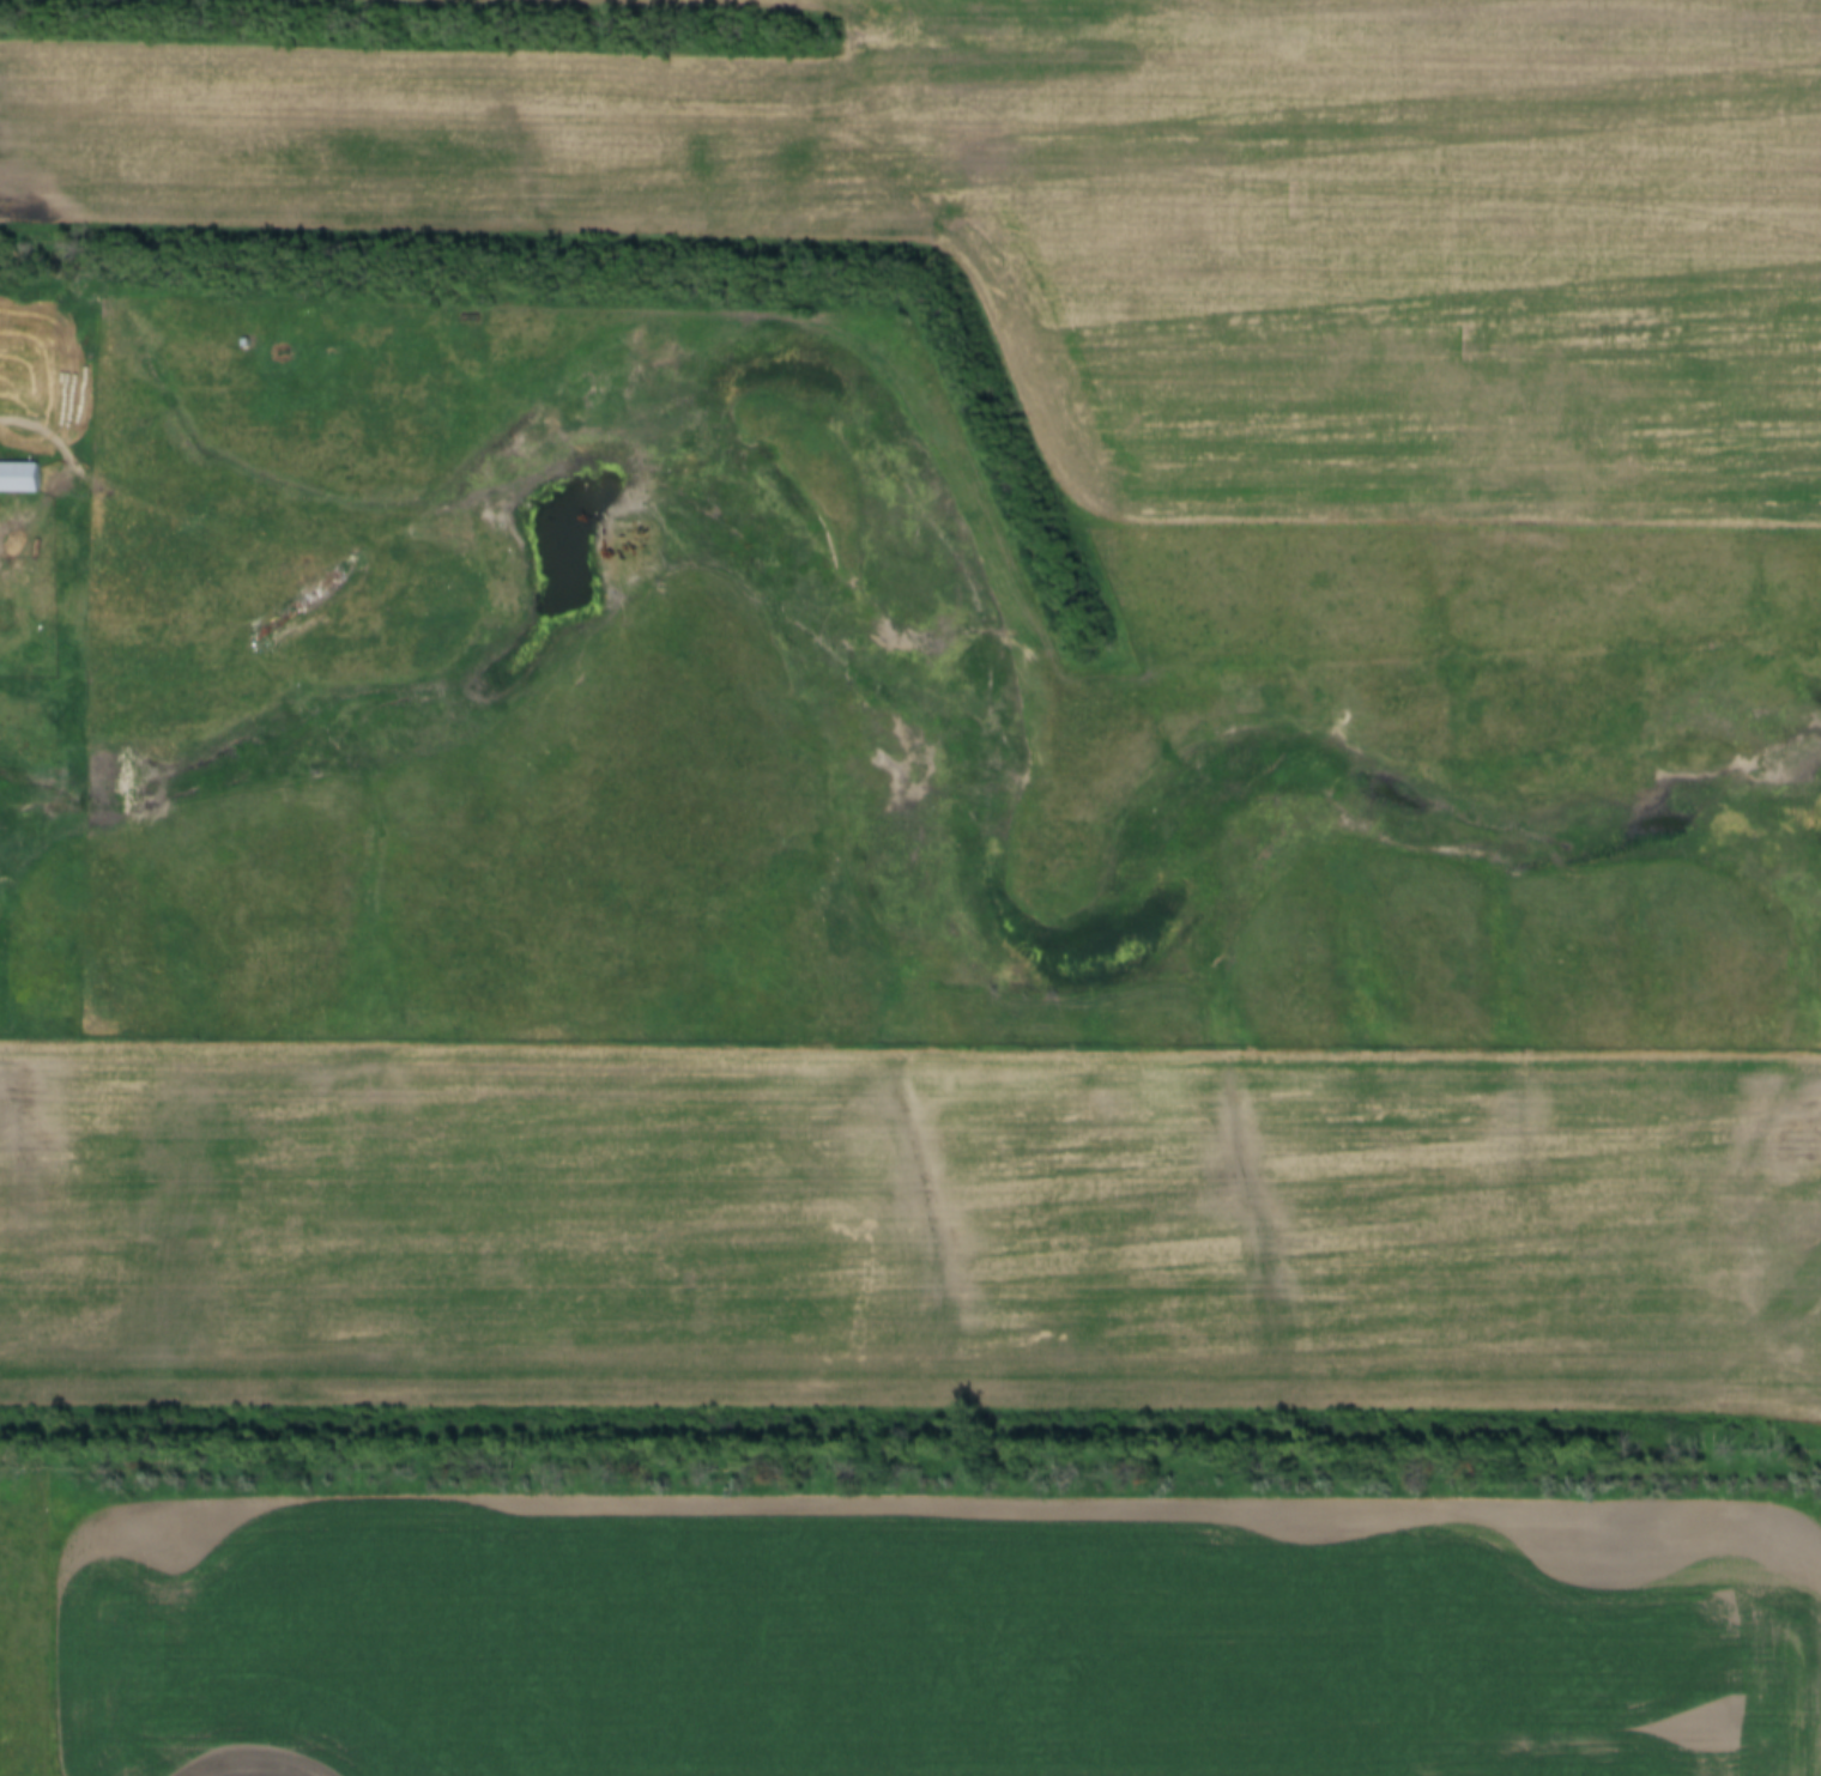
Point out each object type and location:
road: (79, 461)
building: (17, 477)

